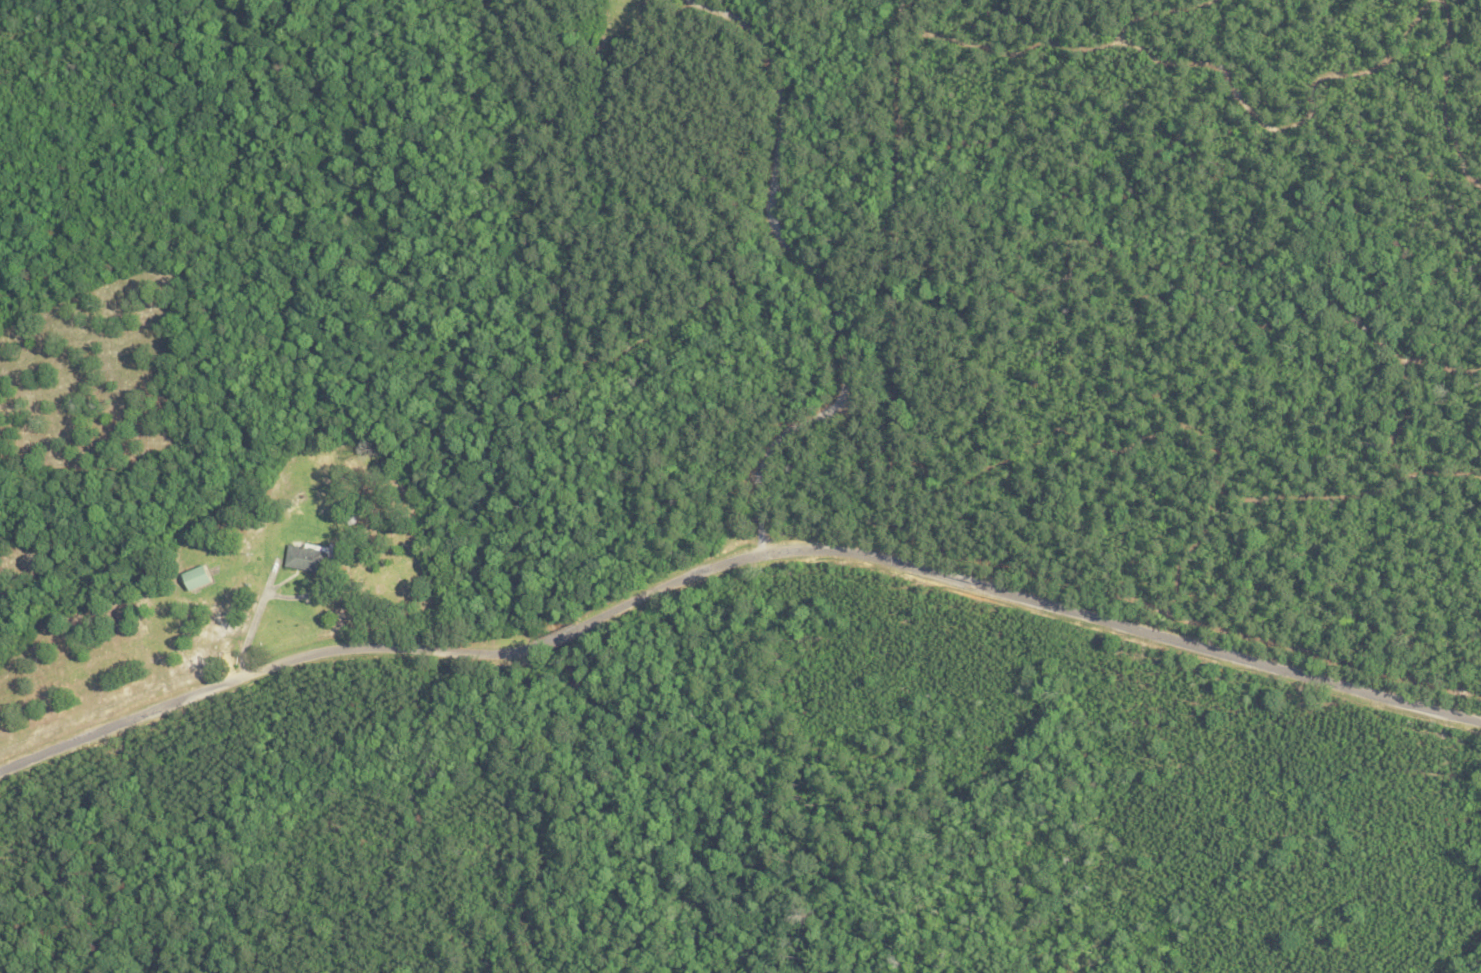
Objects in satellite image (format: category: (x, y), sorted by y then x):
road: (733, 563)
building: (197, 577)

